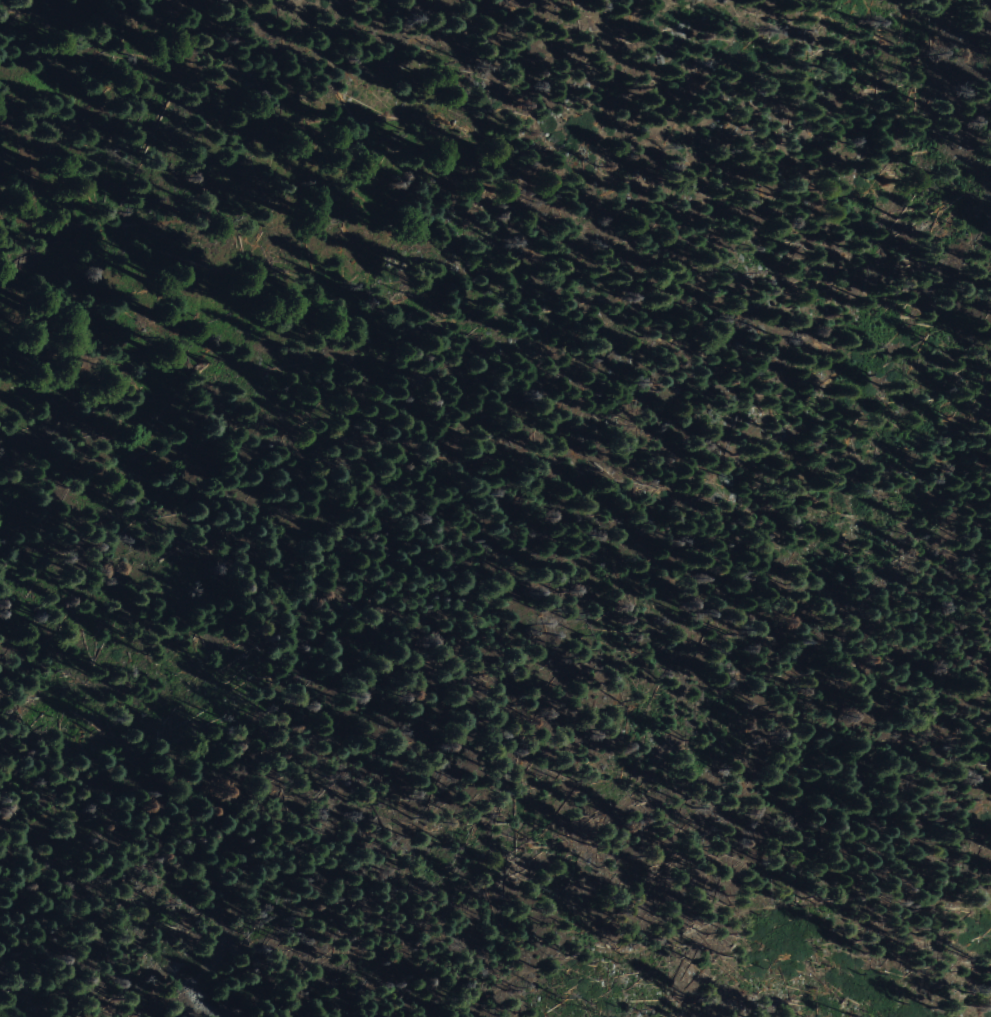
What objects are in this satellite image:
road: (702, 910)

